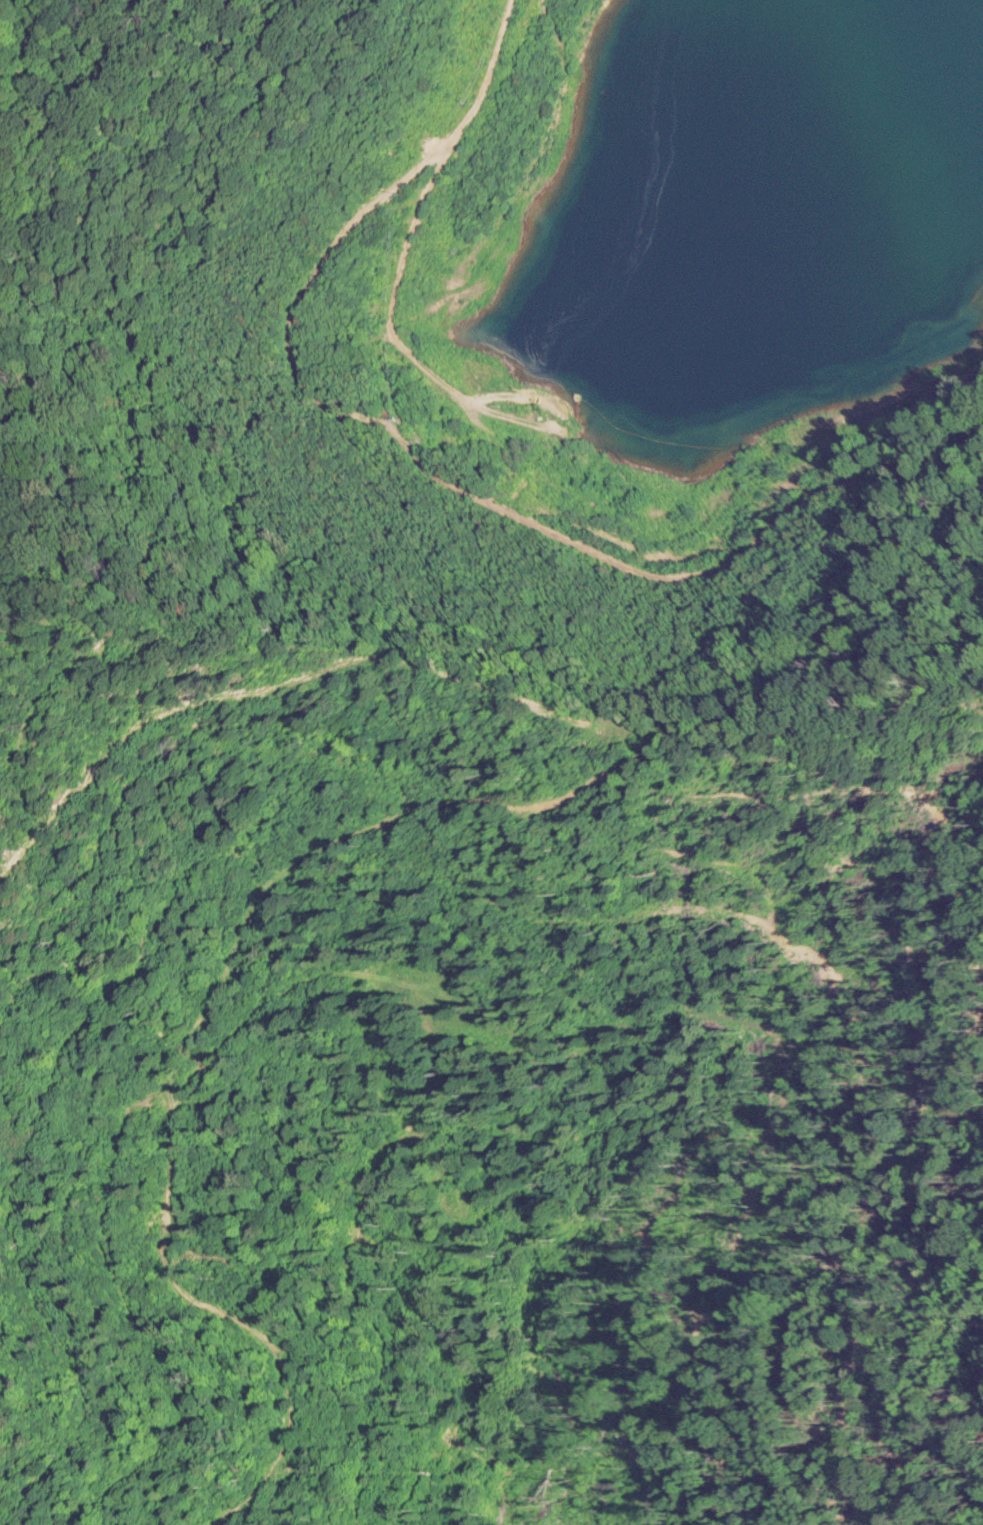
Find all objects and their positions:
quarry: (712, 249)

